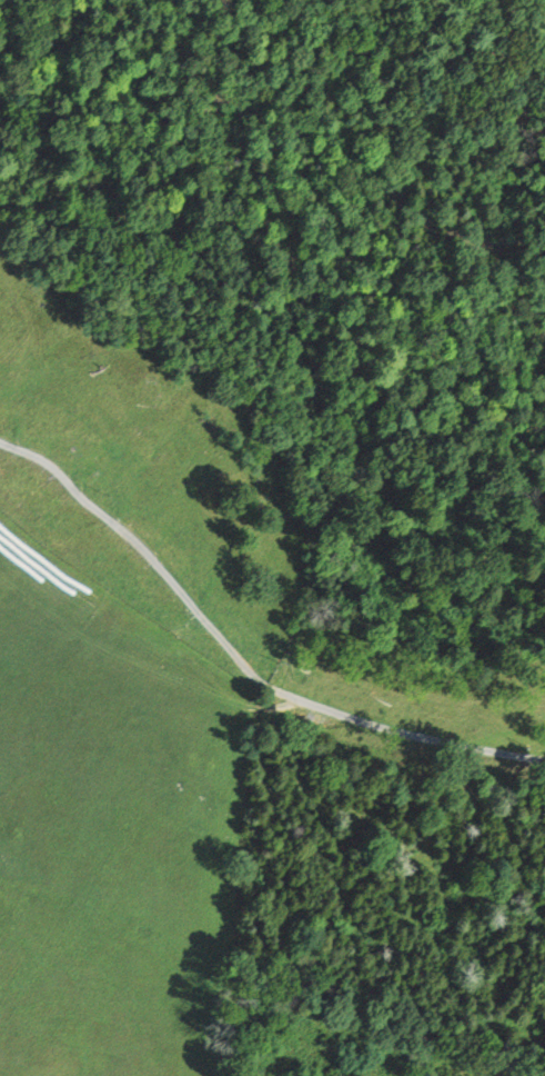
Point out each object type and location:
road: (241, 658)

